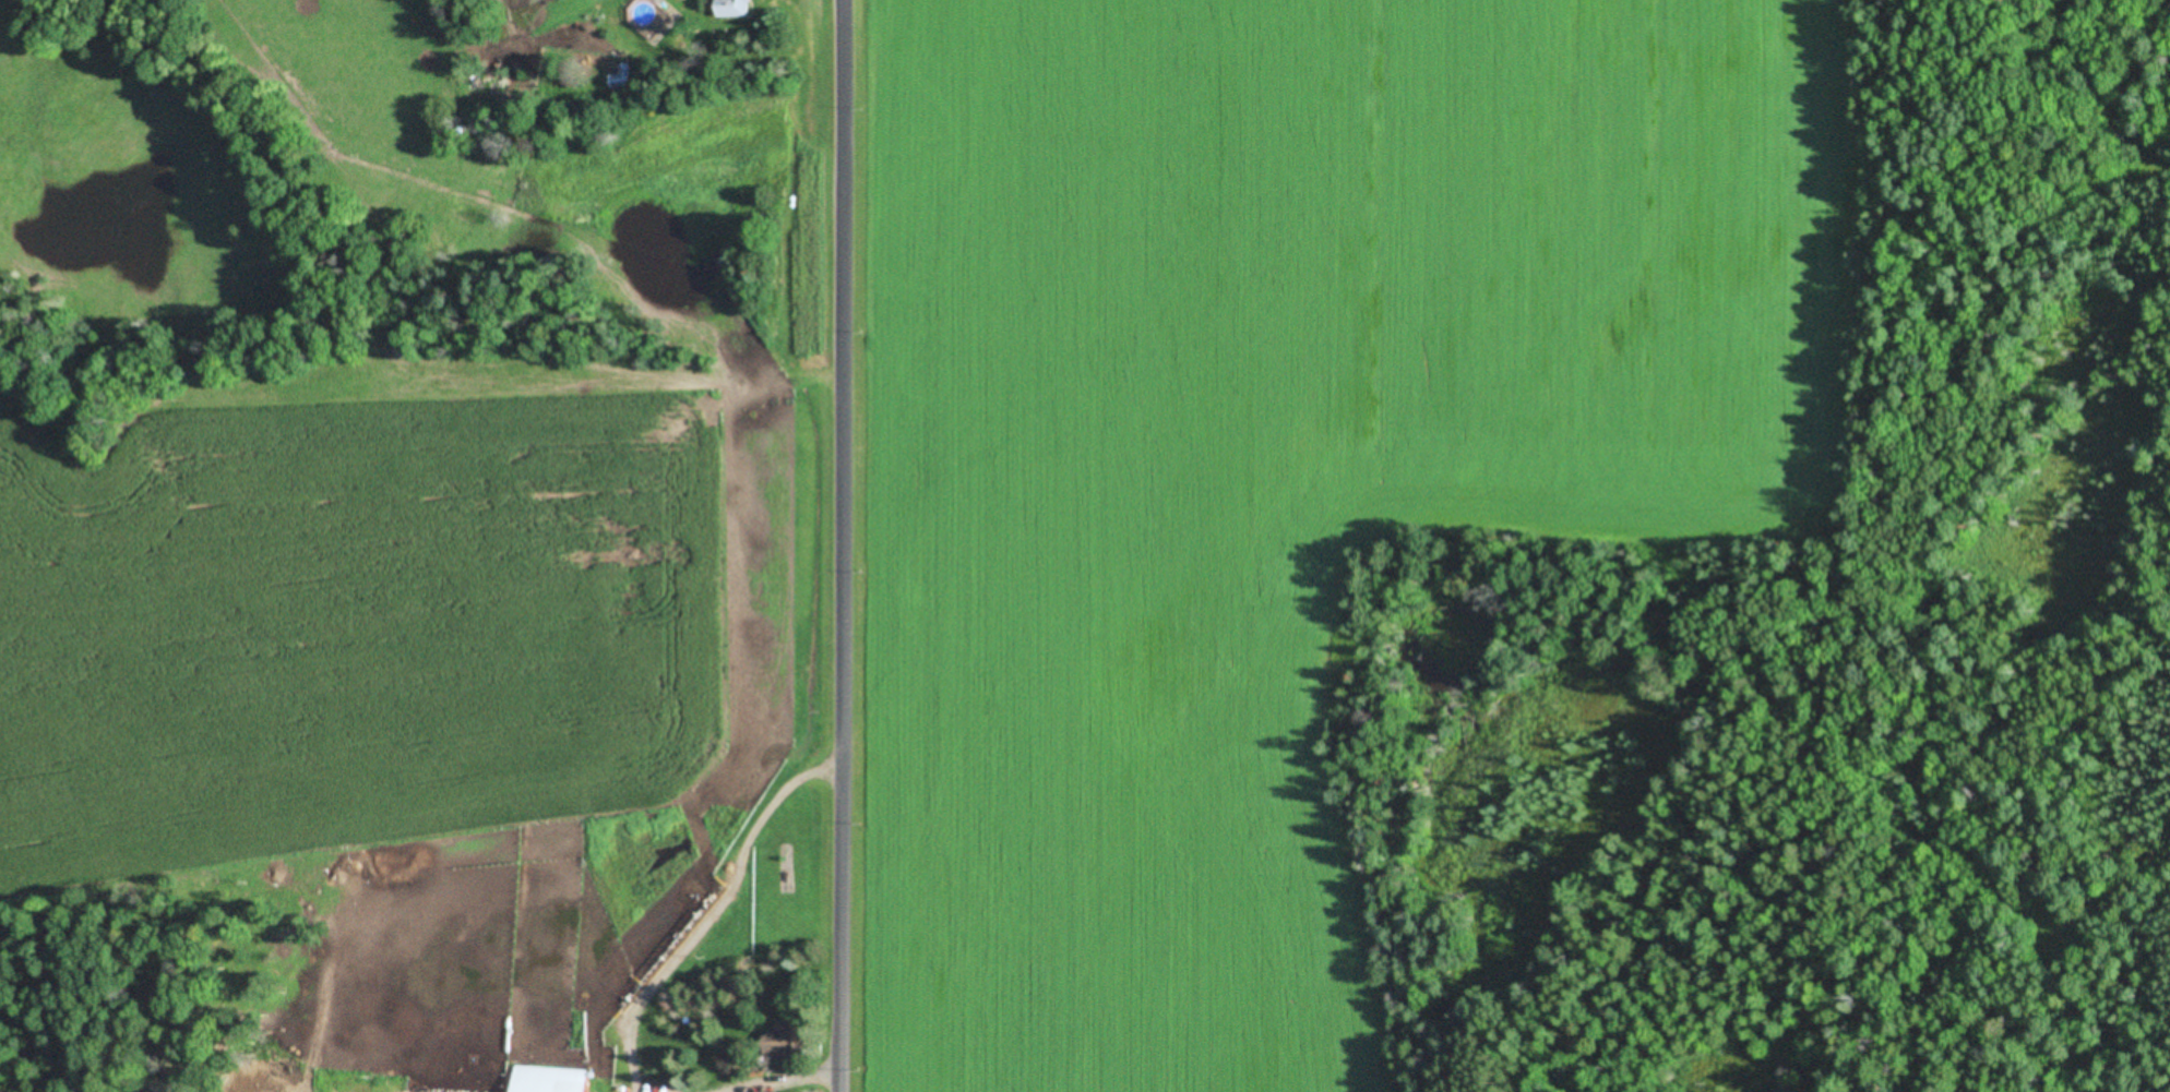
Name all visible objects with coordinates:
building: (737, 9)
road: (856, 545)
building: (786, 1041)
building: (576, 1087)

